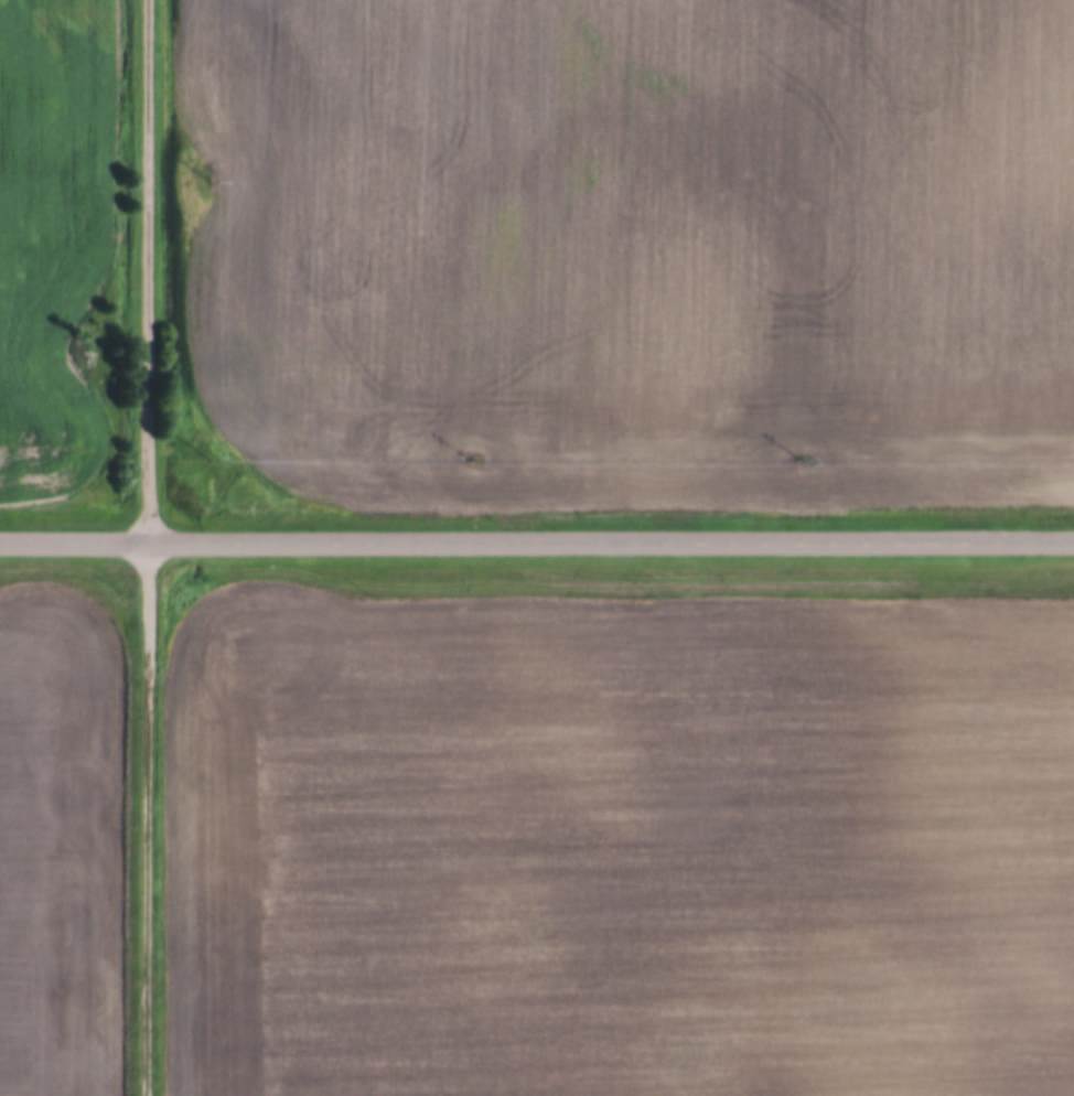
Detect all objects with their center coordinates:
road: (147, 271)
road: (537, 542)
road: (144, 819)

